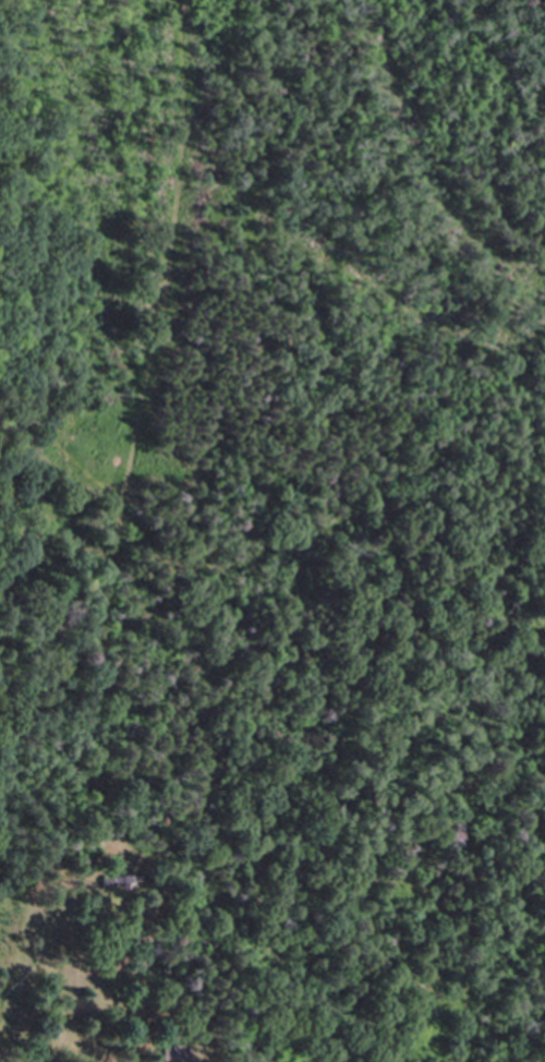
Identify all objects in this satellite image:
building: (122, 882)
building: (178, 1053)

